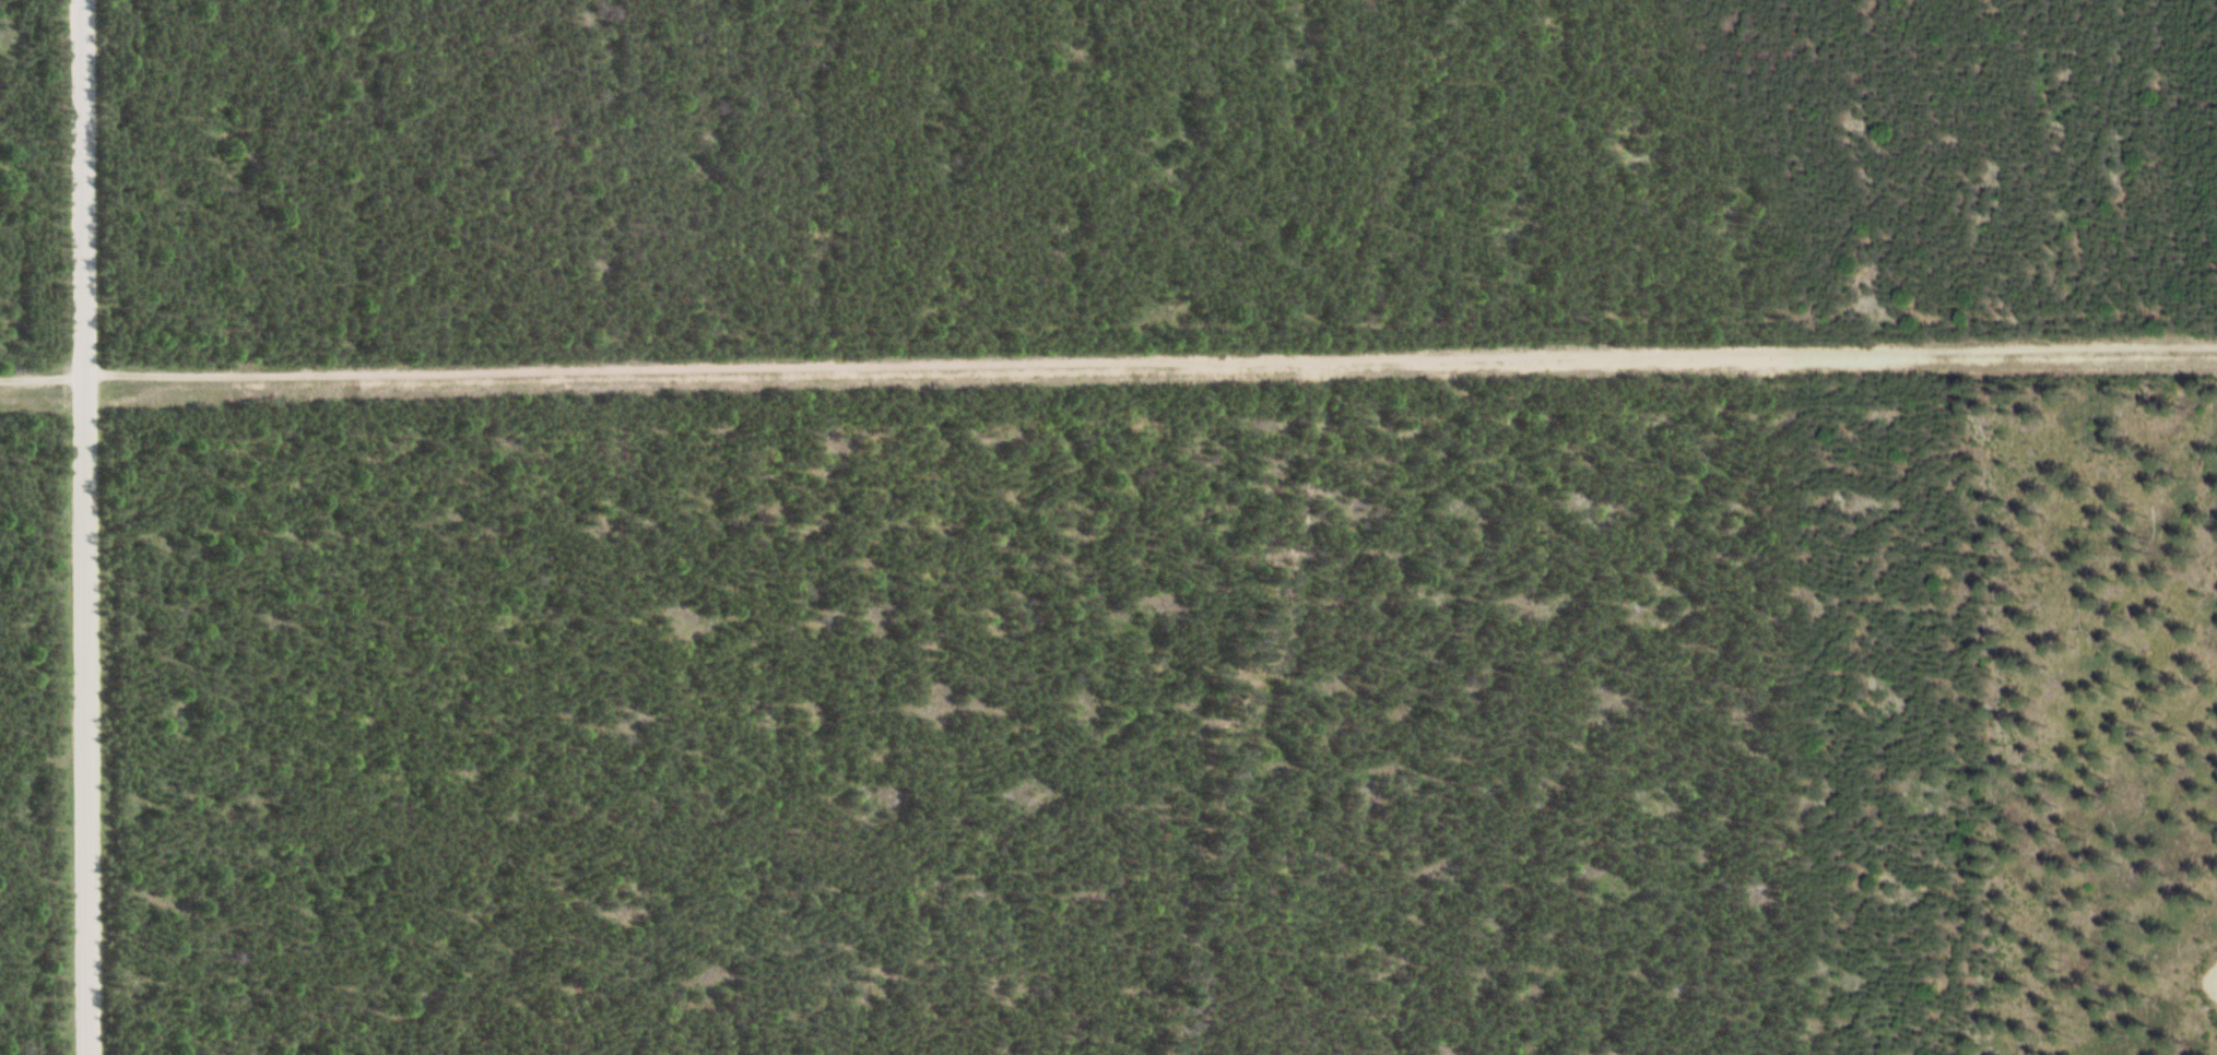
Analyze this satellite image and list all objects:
road: (1108, 365)
road: (90, 526)

